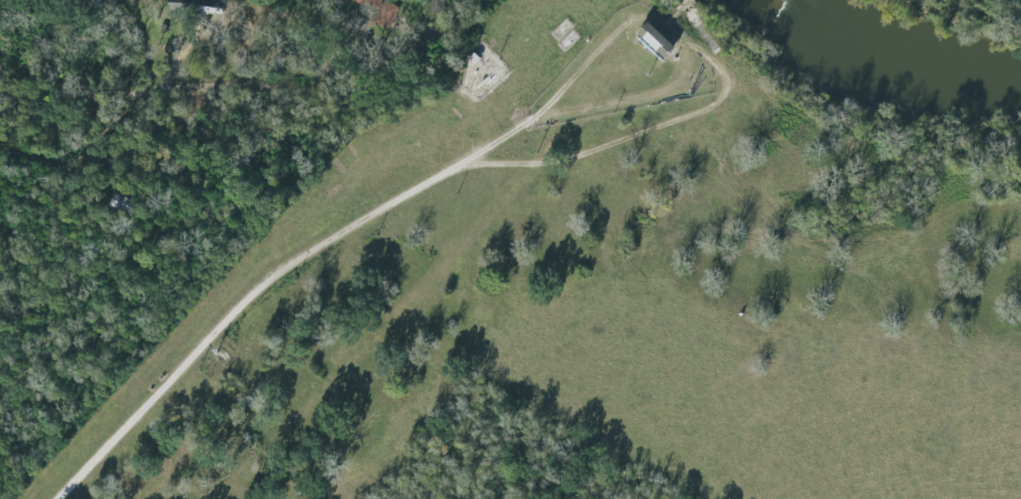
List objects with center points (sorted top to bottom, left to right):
building: (370, 3)
building: (653, 41)
road: (183, 89)
road: (673, 125)
road: (334, 240)

